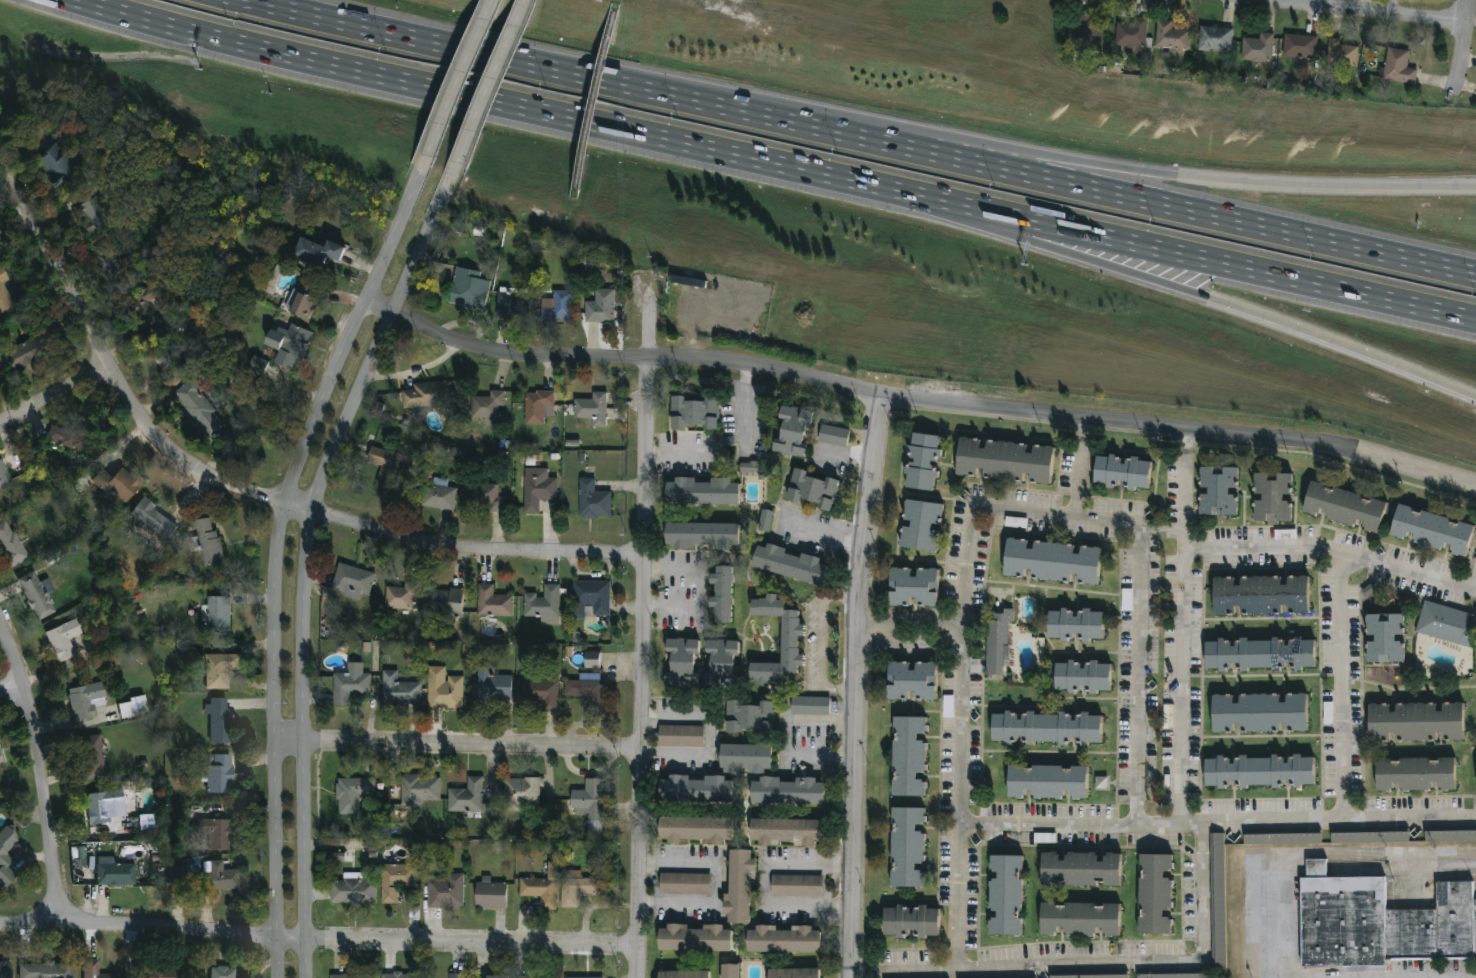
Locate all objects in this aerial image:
road: (524, 3)
road: (1348, 11)
building: (1085, 24)
building: (1130, 32)
building: (1168, 35)
building: (1213, 37)
building: (1298, 45)
road: (1463, 46)
building: (1257, 49)
road: (477, 50)
building: (1340, 52)
building: (1396, 66)
road: (460, 77)
road: (491, 85)
road: (434, 88)
road: (914, 135)
building: (61, 163)
road: (1298, 185)
road: (1091, 188)
building: (102, 215)
road: (955, 217)
road: (1136, 243)
building: (324, 250)
building: (115, 263)
building: (472, 290)
building: (6, 294)
building: (308, 299)
building: (511, 303)
building: (148, 306)
building: (558, 306)
building: (599, 306)
road: (1297, 327)
building: (293, 347)
building: (23, 352)
building: (258, 365)
building: (429, 395)
road: (54, 396)
road: (915, 400)
building: (491, 404)
building: (201, 406)
road: (745, 407)
building: (540, 408)
building: (590, 408)
building: (692, 413)
building: (791, 430)
building: (834, 435)
building: (74, 438)
building: (1004, 460)
building: (921, 461)
building: (388, 466)
building: (749, 467)
building: (1122, 471)
building: (5, 474)
building: (122, 484)
building: (812, 489)
building: (539, 491)
building: (701, 491)
building: (1220, 491)
road: (244, 492)
building: (442, 496)
building: (491, 496)
building: (1274, 497)
building: (591, 500)
road: (981, 504)
building: (1344, 506)
building: (155, 519)
building: (766, 520)
building: (920, 525)
building: (1432, 529)
road: (818, 531)
building: (702, 534)
building: (14, 543)
building: (210, 543)
road: (1331, 551)
road: (276, 552)
road: (305, 555)
building: (1052, 561)
building: (789, 564)
road: (1472, 574)
building: (355, 582)
building: (913, 587)
road: (697, 588)
building: (38, 594)
building: (721, 594)
road: (840, 594)
building: (1261, 595)
building: (404, 596)
building: (589, 597)
building: (449, 602)
building: (496, 602)
building: (544, 604)
building: (220, 613)
road: (905, 622)
building: (1447, 624)
building: (1075, 625)
road: (1181, 627)
road: (820, 638)
building: (1386, 638)
building: (66, 639)
building: (998, 641)
building: (789, 645)
road: (906, 647)
building: (1262, 654)
building: (721, 656)
building: (592, 659)
building: (682, 660)
road: (639, 667)
building: (223, 669)
building: (1082, 677)
building: (911, 681)
building: (353, 684)
road: (852, 686)
road: (835, 687)
road: (1343, 687)
road: (13, 690)
building: (402, 690)
building: (447, 690)
building: (496, 690)
building: (584, 690)
building: (544, 692)
building: (88, 699)
building: (136, 706)
building: (811, 706)
building: (1260, 714)
building: (749, 716)
building: (222, 720)
building: (1416, 723)
building: (1046, 728)
building: (682, 735)
road: (710, 737)
road: (456, 745)
road: (799, 754)
building: (3, 755)
building: (907, 756)
building: (93, 757)
building: (745, 758)
building: (1262, 772)
building: (220, 773)
road: (45, 774)
building: (1416, 774)
building: (1047, 782)
building: (423, 791)
building: (786, 791)
building: (523, 792)
building: (695, 792)
building: (353, 795)
building: (470, 796)
building: (107, 806)
building: (590, 807)
building: (146, 821)
road: (1219, 823)
building: (695, 829)
building: (787, 831)
building: (218, 832)
building: (1450, 836)
building: (1370, 837)
building: (1282, 839)
building: (906, 848)
road: (1320, 852)
building: (7, 856)
building: (1081, 870)
building: (117, 872)
building: (180, 873)
building: (219, 877)
building: (398, 880)
road: (718, 883)
building: (686, 884)
road: (764, 884)
building: (739, 886)
building: (798, 886)
building: (577, 887)
building: (356, 890)
building: (448, 891)
building: (543, 891)
building: (494, 894)
building: (1154, 895)
building: (1005, 896)
building: (1218, 901)
building: (1079, 920)
building: (910, 922)
building: (1378, 923)
building: (693, 939)
road: (318, 940)
building: (782, 940)
road: (1112, 964)
building: (7, 969)
building: (50, 969)
building: (97, 969)
building: (163, 971)
building: (225, 971)
building: (731, 971)
parking lot: (1410, 971)
building: (793, 973)
building: (682, 974)
building: (356, 975)
building: (402, 975)
building: (458, 975)
building: (504, 976)
building: (529, 976)
building: (1093, 976)
building: (1174, 976)
building: (590, 977)
building: (1017, 977)

